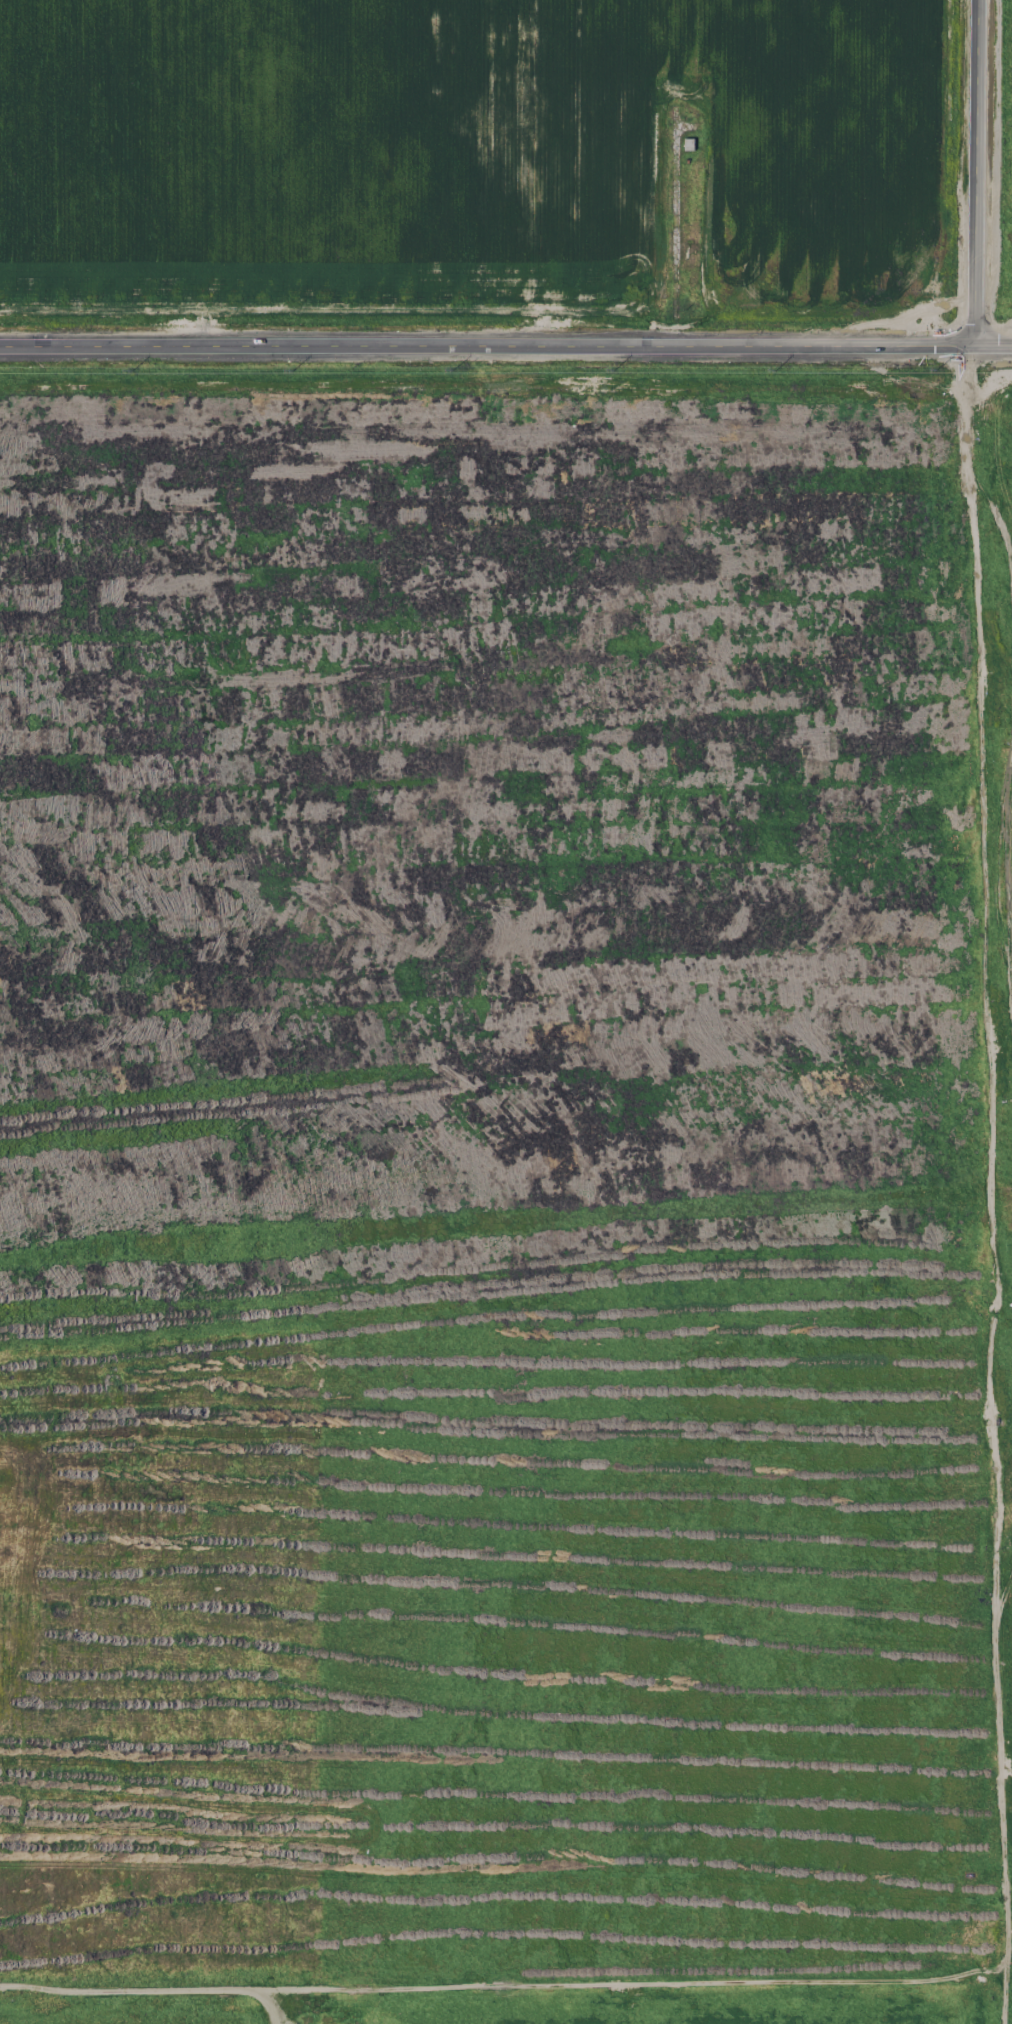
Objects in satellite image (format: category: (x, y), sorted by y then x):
road: (975, 173)
road: (506, 346)
road: (989, 1185)
road: (503, 1986)
road: (269, 2004)

